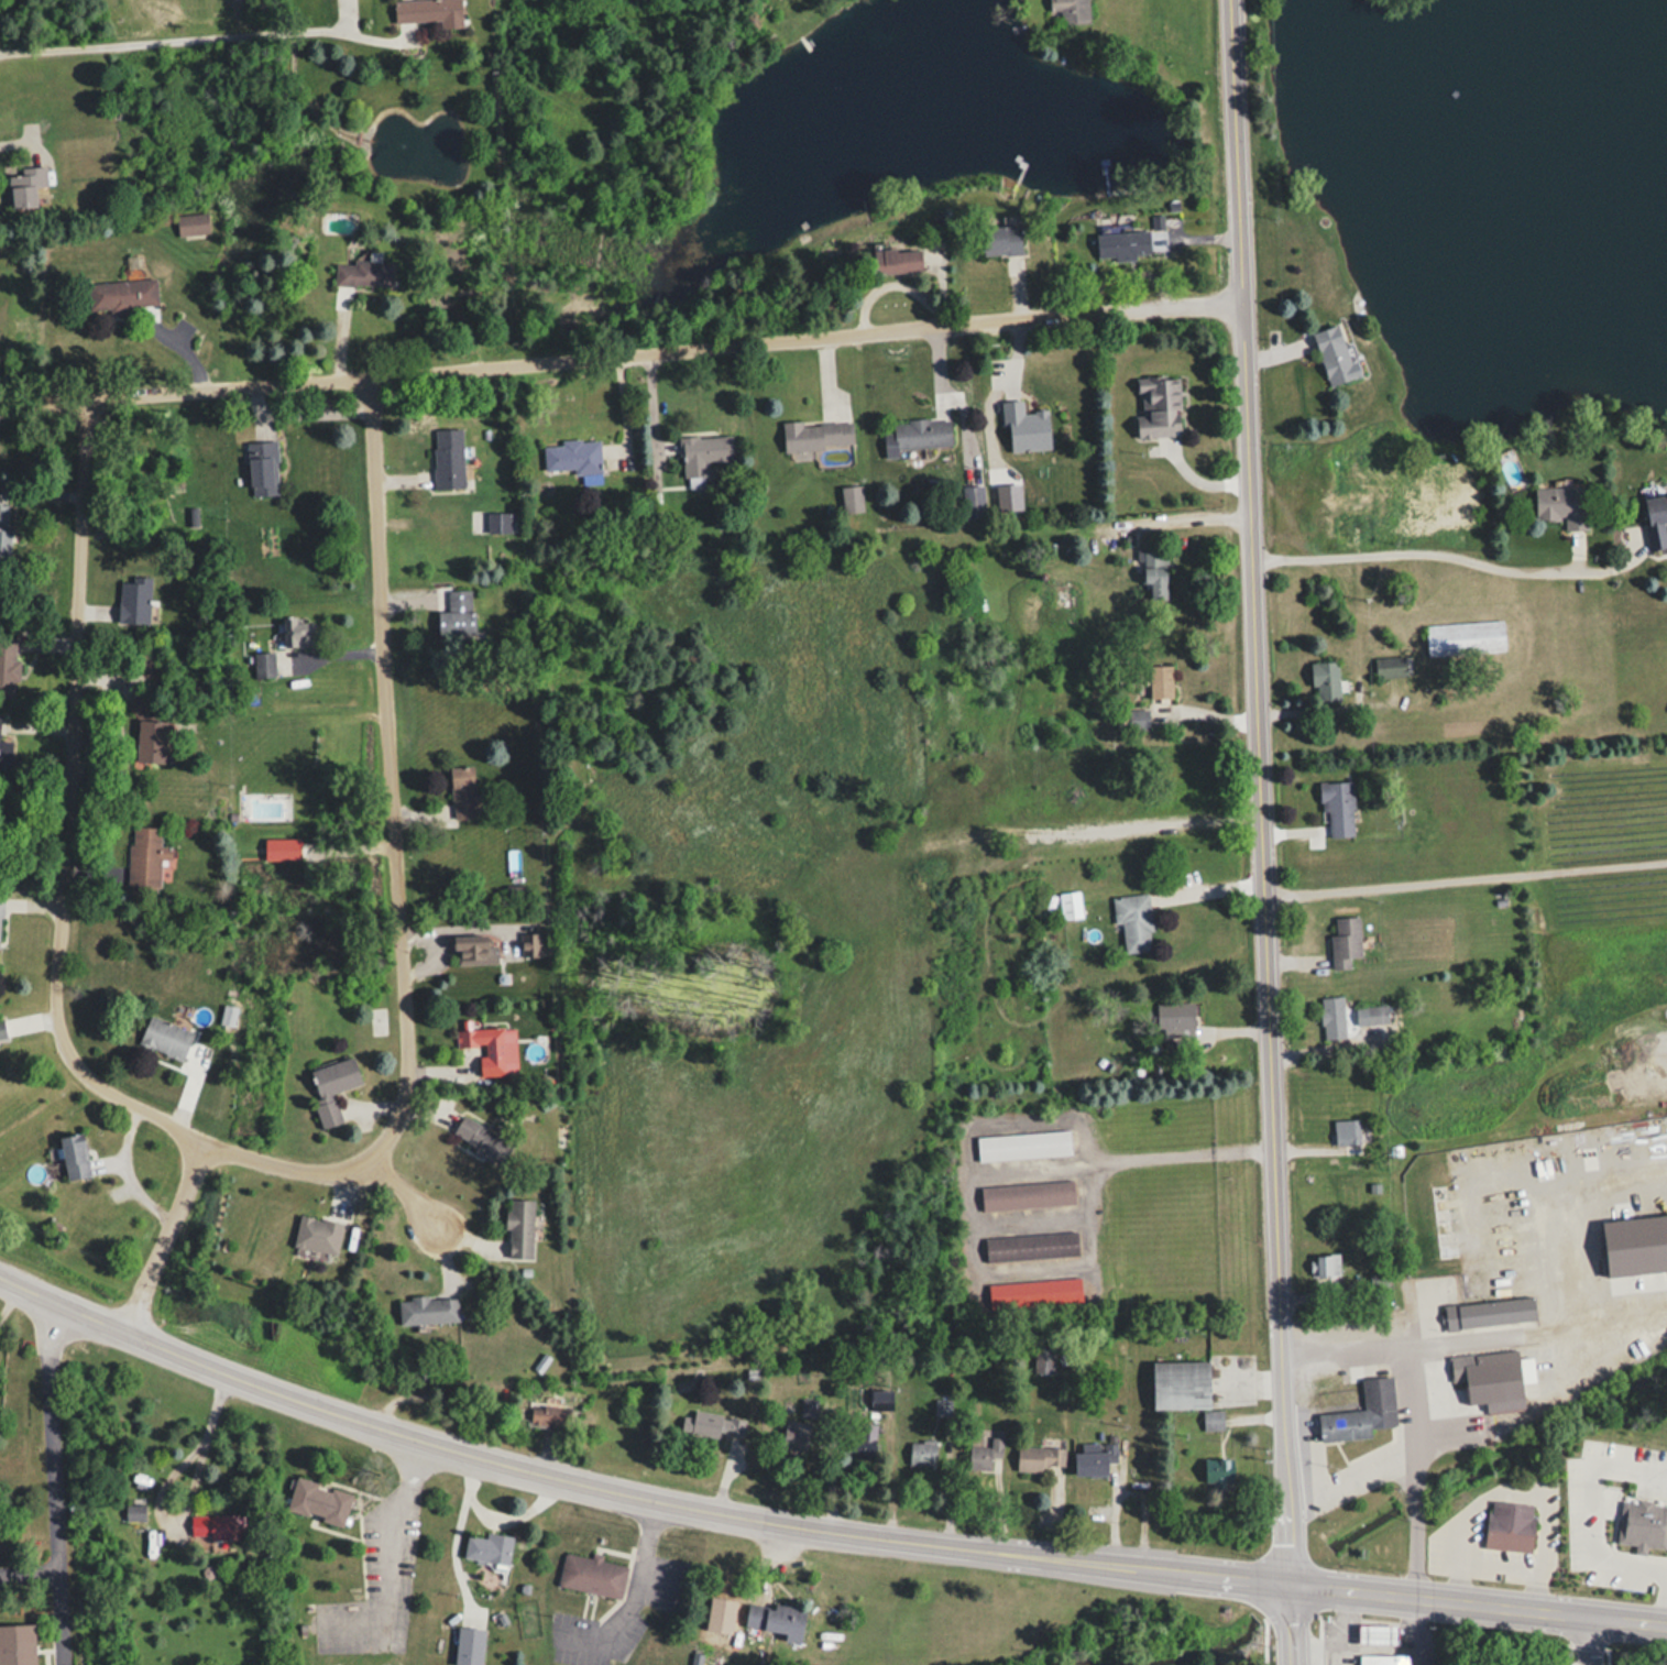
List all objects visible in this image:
building: (1071, 10)
building: (428, 11)
road: (162, 40)
building: (26, 187)
building: (191, 223)
building: (1000, 239)
building: (1136, 240)
building: (897, 260)
building: (362, 272)
building: (123, 294)
road: (622, 350)
building: (1334, 354)
building: (1158, 406)
building: (1024, 427)
building: (921, 432)
building: (816, 435)
building: (702, 452)
building: (572, 456)
building: (447, 458)
building: (261, 465)
building: (852, 497)
building: (973, 501)
building: (1561, 505)
building: (1656, 519)
building: (498, 522)
building: (3, 533)
building: (1352, 533)
road: (1450, 554)
building: (1153, 573)
building: (1057, 596)
building: (134, 601)
building: (454, 612)
building: (297, 632)
building: (1465, 637)
building: (8, 665)
building: (263, 665)
building: (1390, 666)
building: (1160, 681)
building: (1325, 681)
building: (1131, 721)
building: (149, 733)
building: (3, 746)
road: (1259, 774)
building: (462, 792)
road: (70, 804)
building: (1338, 807)
road: (399, 857)
building: (146, 858)
building: (511, 863)
road: (1465, 878)
building: (1070, 906)
building: (1133, 922)
building: (1345, 942)
building: (530, 945)
building: (475, 954)
building: (1373, 1015)
building: (1331, 1018)
building: (1176, 1019)
building: (2, 1031)
building: (165, 1038)
building: (491, 1049)
building: (332, 1087)
building: (1344, 1132)
building: (481, 1140)
building: (1022, 1146)
building: (74, 1153)
building: (1027, 1194)
road: (418, 1202)
road: (1558, 1203)
building: (519, 1227)
building: (317, 1233)
road: (166, 1234)
building: (1030, 1246)
building: (1324, 1267)
building: (1034, 1292)
building: (428, 1308)
building: (1489, 1313)
road: (1471, 1333)
road: (150, 1339)
building: (1042, 1360)
building: (1488, 1380)
building: (1180, 1383)
building: (881, 1399)
building: (808, 1407)
building: (1361, 1412)
building: (547, 1414)
building: (1211, 1420)
building: (717, 1422)
building: (796, 1436)
building: (921, 1452)
building: (985, 1456)
building: (1040, 1457)
building: (1094, 1459)
road: (1404, 1466)
building: (1218, 1469)
road: (56, 1481)
road: (195, 1494)
building: (318, 1500)
building: (133, 1512)
road: (504, 1516)
road: (786, 1521)
building: (1643, 1523)
building: (216, 1525)
building: (1509, 1525)
road: (401, 1546)
building: (489, 1547)
road: (30, 1568)
building: (591, 1574)
road: (644, 1587)
road: (1474, 1599)
road: (1283, 1607)
building: (774, 1618)
building: (1377, 1632)
road: (1582, 1637)
building: (17, 1644)
building: (469, 1645)
building: (1382, 1658)

